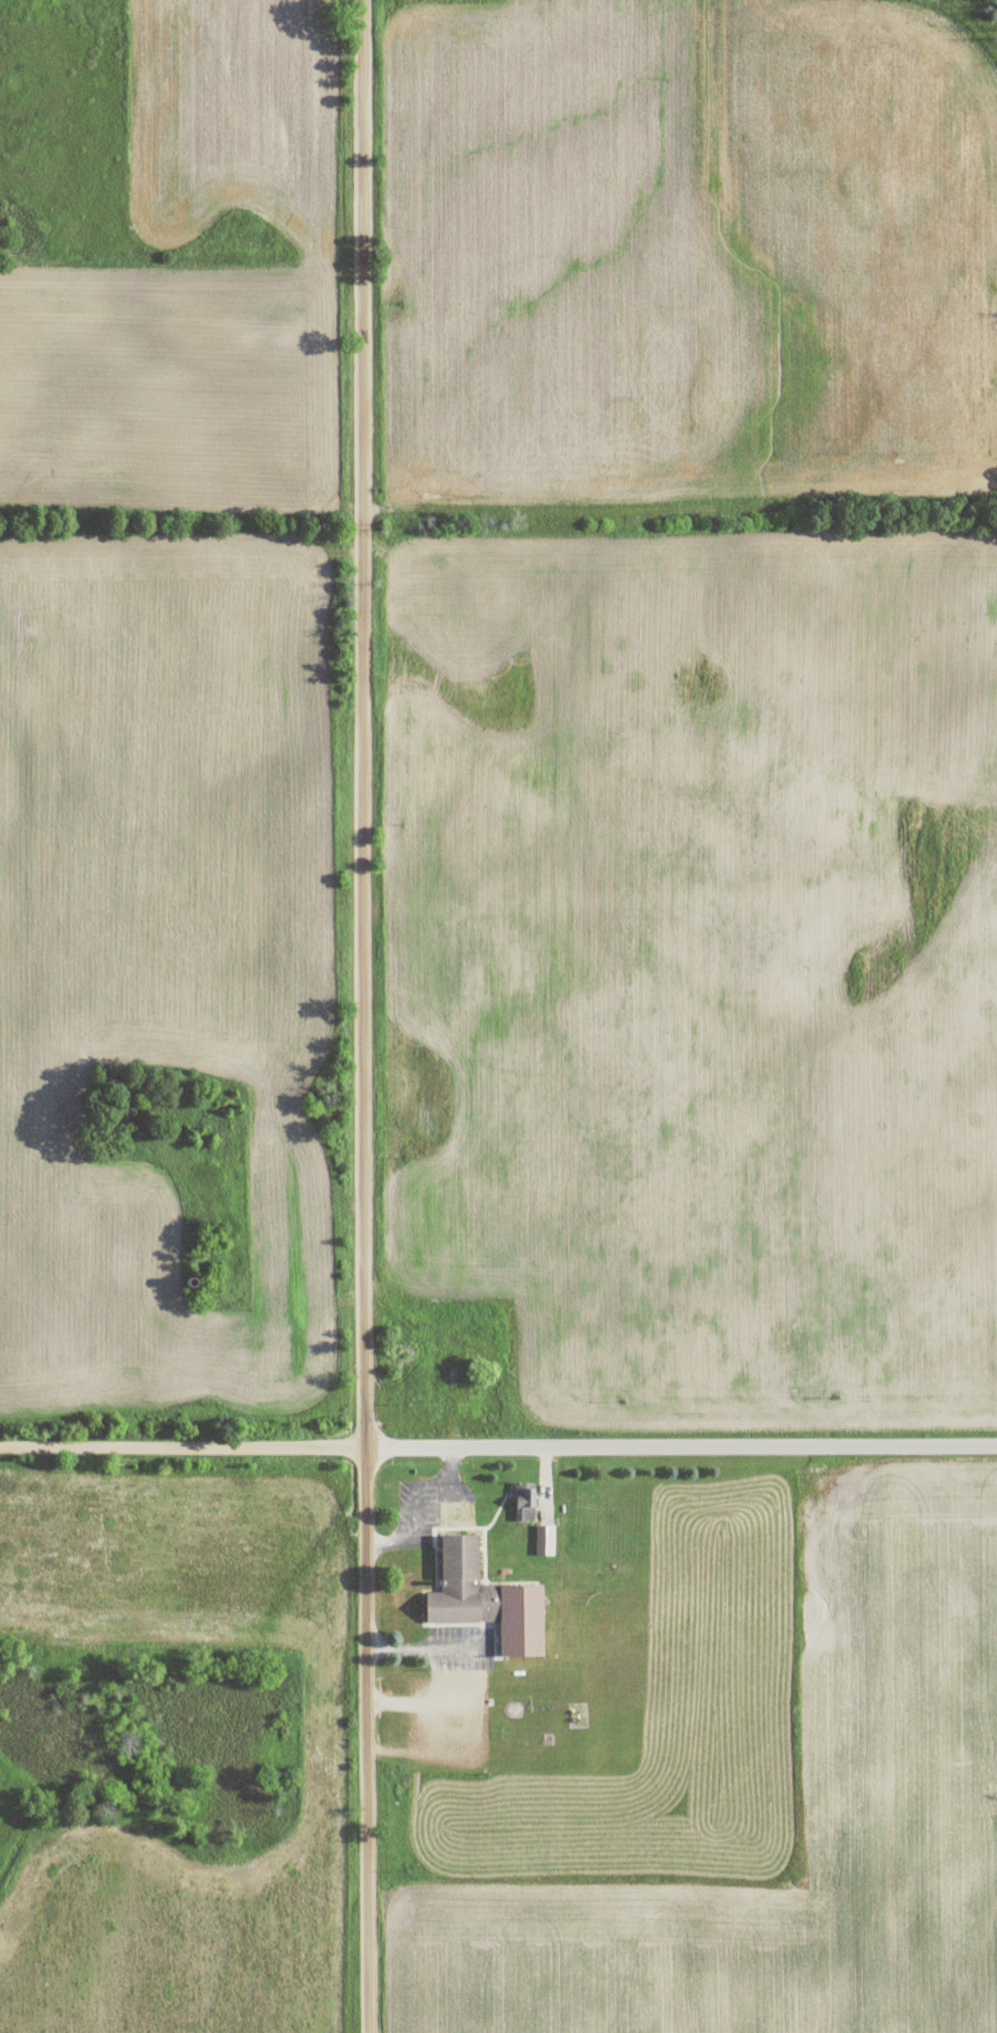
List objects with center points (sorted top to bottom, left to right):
road: (371, 1016)
road: (682, 1447)
road: (184, 1448)
road: (412, 1497)
building: (525, 1500)
building: (489, 1600)
road: (423, 1647)

